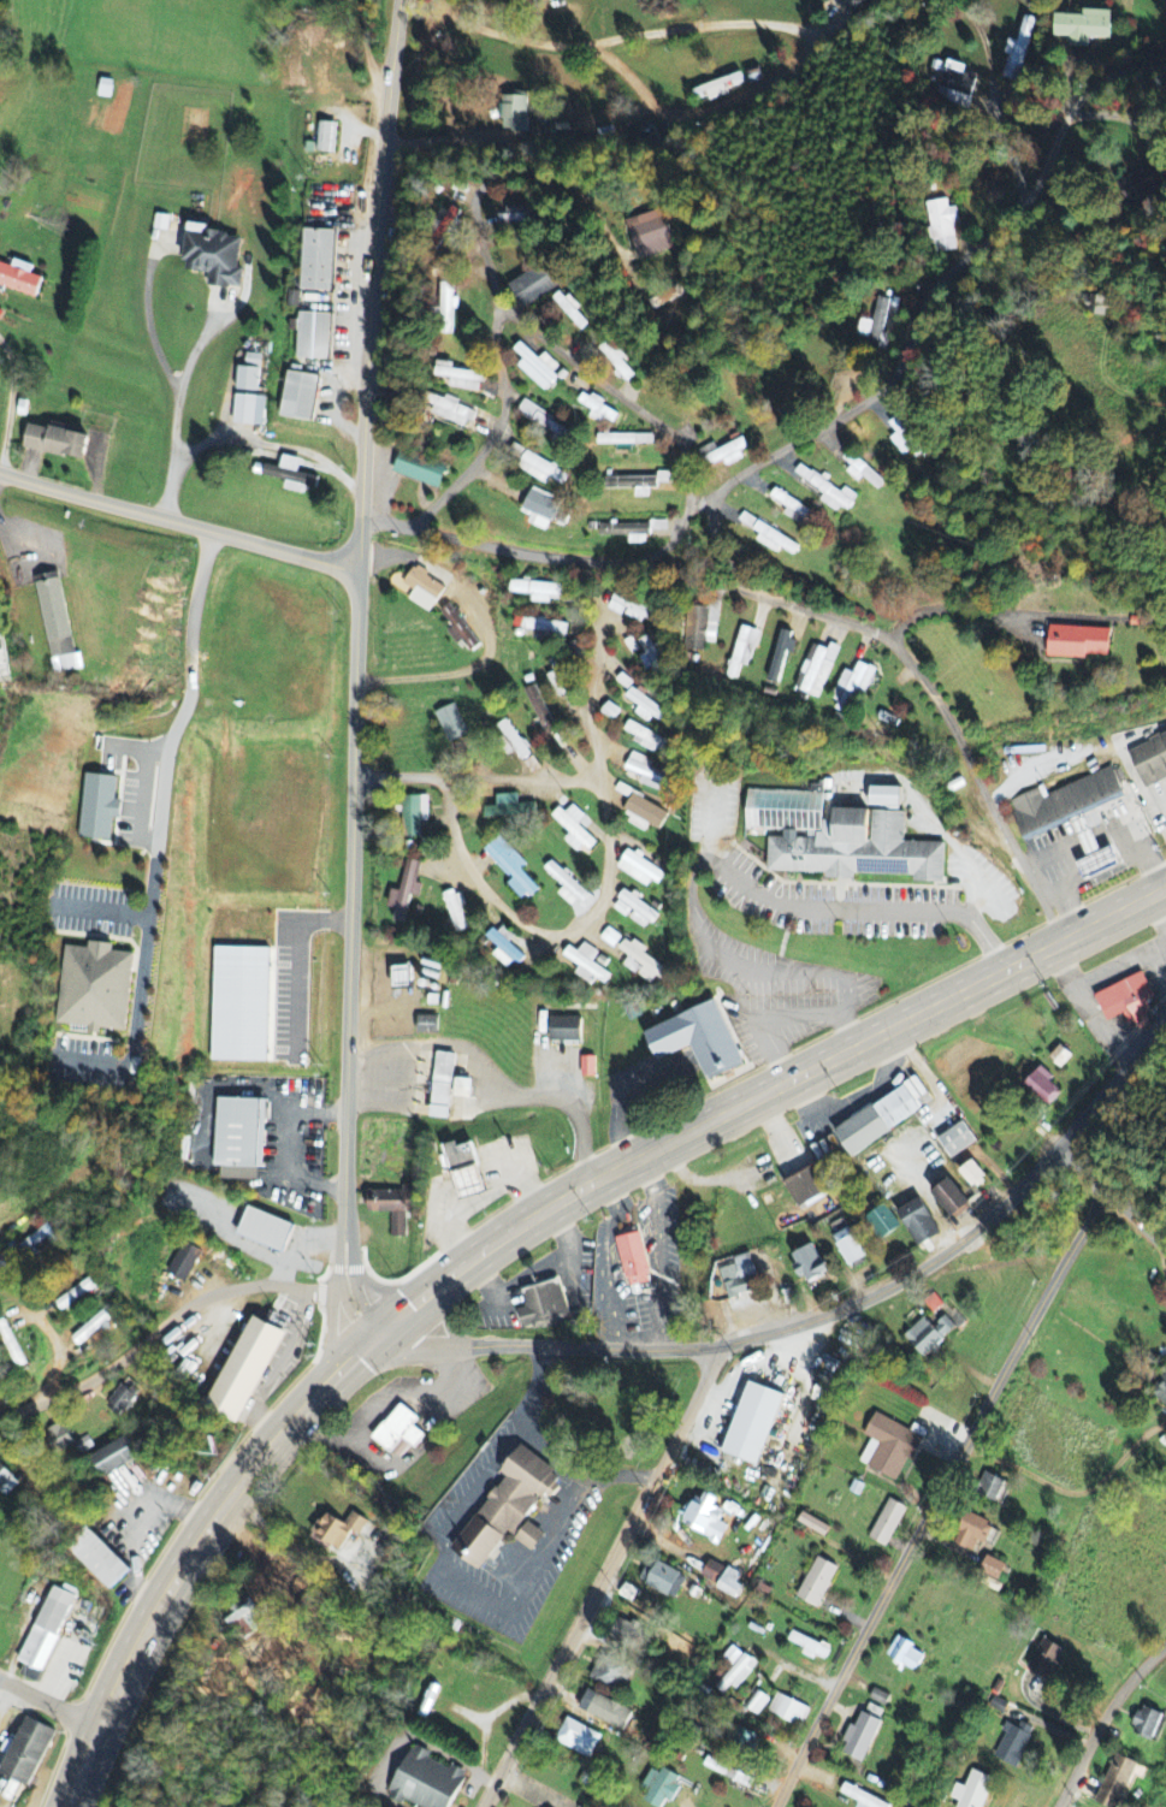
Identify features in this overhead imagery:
building: (543, 1)
building: (851, 5)
building: (1083, 26)
road: (365, 48)
building: (1018, 51)
road: (800, 57)
building: (955, 85)
building: (718, 88)
building: (103, 89)
building: (513, 112)
building: (326, 137)
road: (533, 174)
building: (1138, 184)
building: (516, 214)
building: (160, 223)
building: (942, 226)
building: (443, 227)
building: (649, 235)
building: (213, 256)
building: (318, 260)
building: (19, 278)
road: (373, 283)
building: (534, 284)
building: (1097, 306)
building: (446, 308)
building: (570, 308)
building: (877, 322)
building: (313, 337)
building: (617, 356)
building: (537, 367)
building: (458, 377)
building: (247, 379)
building: (300, 397)
road: (8, 408)
building: (598, 408)
building: (248, 410)
building: (449, 410)
building: (543, 420)
road: (497, 431)
building: (626, 439)
building: (904, 439)
building: (54, 442)
building: (723, 454)
building: (535, 466)
building: (418, 469)
building: (862, 472)
building: (290, 475)
road: (733, 480)
building: (641, 481)
building: (825, 488)
road: (699, 497)
building: (791, 506)
building: (541, 509)
road: (179, 521)
building: (627, 533)
road: (674, 537)
building: (769, 537)
building: (424, 590)
building: (538, 592)
building: (628, 608)
building: (53, 615)
building: (458, 628)
building: (543, 629)
building: (700, 629)
building: (1078, 642)
building: (632, 646)
building: (742, 651)
building: (649, 654)
building: (781, 654)
building: (816, 670)
building: (557, 679)
building: (625, 682)
building: (852, 687)
road: (590, 694)
building: (646, 707)
building: (540, 711)
building: (610, 712)
building: (450, 724)
building: (646, 739)
building: (513, 741)
building: (1149, 758)
building: (649, 774)
road: (475, 776)
building: (883, 798)
building: (95, 807)
building: (509, 808)
building: (644, 814)
building: (414, 816)
building: (574, 829)
building: (839, 840)
building: (510, 867)
building: (639, 870)
building: (569, 888)
building: (404, 891)
building: (455, 910)
building: (634, 911)
road: (541, 931)
building: (610, 938)
building: (505, 946)
road: (349, 953)
building: (645, 962)
building: (586, 965)
building: (632, 966)
building: (401, 978)
building: (94, 988)
building: (1126, 1002)
building: (426, 1025)
building: (566, 1030)
building: (698, 1041)
building: (1060, 1057)
building: (587, 1067)
building: (442, 1086)
building: (1043, 1086)
building: (461, 1089)
building: (883, 1116)
building: (239, 1139)
building: (957, 1141)
road: (1085, 1168)
building: (464, 1171)
building: (972, 1174)
building: (805, 1187)
building: (951, 1198)
road: (31, 1202)
building: (393, 1208)
building: (882, 1220)
road: (1136, 1221)
building: (918, 1222)
building: (265, 1231)
road: (509, 1231)
building: (35, 1246)
building: (848, 1248)
building: (633, 1261)
building: (183, 1263)
building: (809, 1264)
building: (739, 1278)
building: (76, 1296)
road: (863, 1297)
building: (933, 1304)
building: (541, 1308)
road: (165, 1323)
building: (90, 1331)
building: (930, 1335)
building: (244, 1370)
building: (1160, 1391)
building: (120, 1402)
building: (752, 1424)
building: (398, 1430)
building: (58, 1439)
building: (84, 1446)
building: (889, 1447)
building: (112, 1458)
building: (6, 1483)
building: (992, 1489)
road: (935, 1498)
building: (508, 1511)
building: (705, 1519)
building: (887, 1524)
building: (813, 1525)
building: (338, 1530)
building: (972, 1533)
building: (99, 1559)
building: (993, 1569)
building: (712, 1572)
road: (602, 1580)
building: (665, 1581)
building: (817, 1583)
building: (729, 1584)
building: (46, 1630)
building: (629, 1635)
building: (810, 1647)
building: (905, 1654)
building: (1046, 1660)
building: (735, 1671)
building: (608, 1672)
building: (880, 1699)
road: (49, 1700)
building: (757, 1704)
building: (788, 1711)
building: (605, 1712)
road: (1103, 1719)
building: (1148, 1725)
building: (860, 1738)
building: (578, 1740)
building: (745, 1740)
building: (1013, 1746)
building: (25, 1753)
building: (728, 1773)
building: (425, 1782)
building: (1118, 1783)
building: (659, 1788)
building: (972, 1791)
building: (860, 1797)

